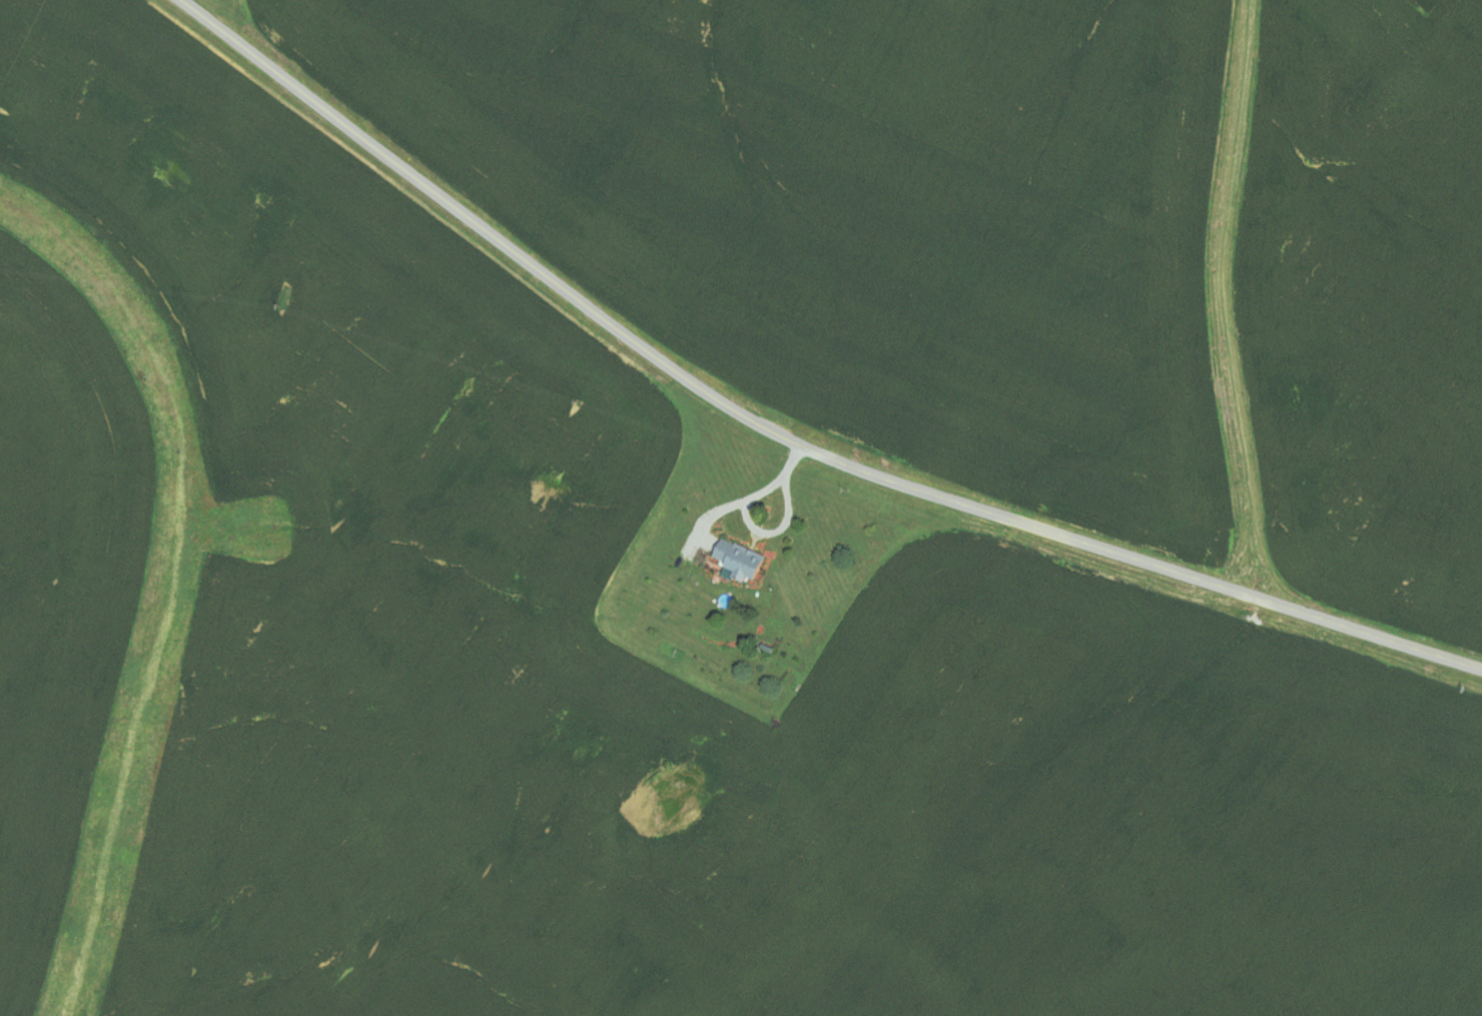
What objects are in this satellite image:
road: (779, 434)
road: (752, 498)
road: (781, 531)
building: (741, 562)

